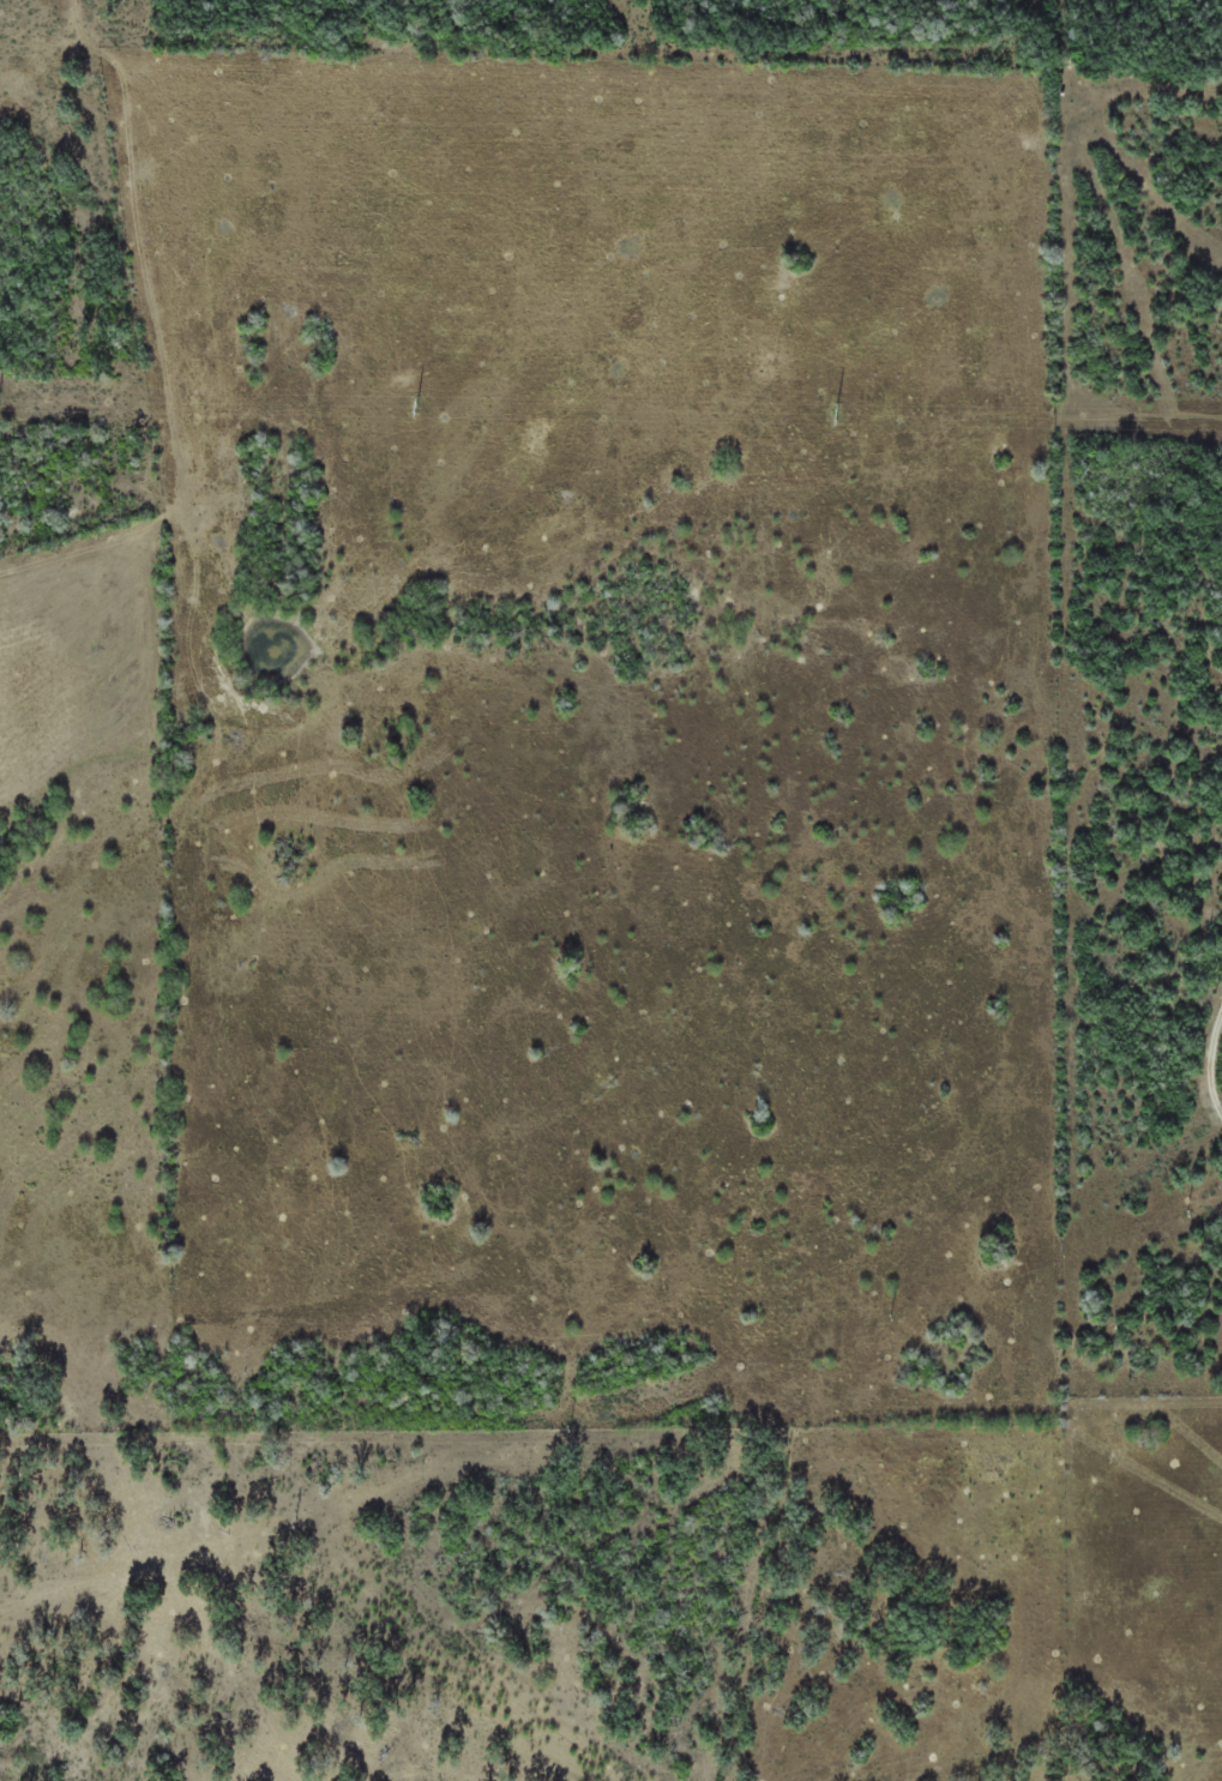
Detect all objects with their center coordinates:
power tower: (0, 398)
power tower: (419, 407)
power tower: (837, 414)

